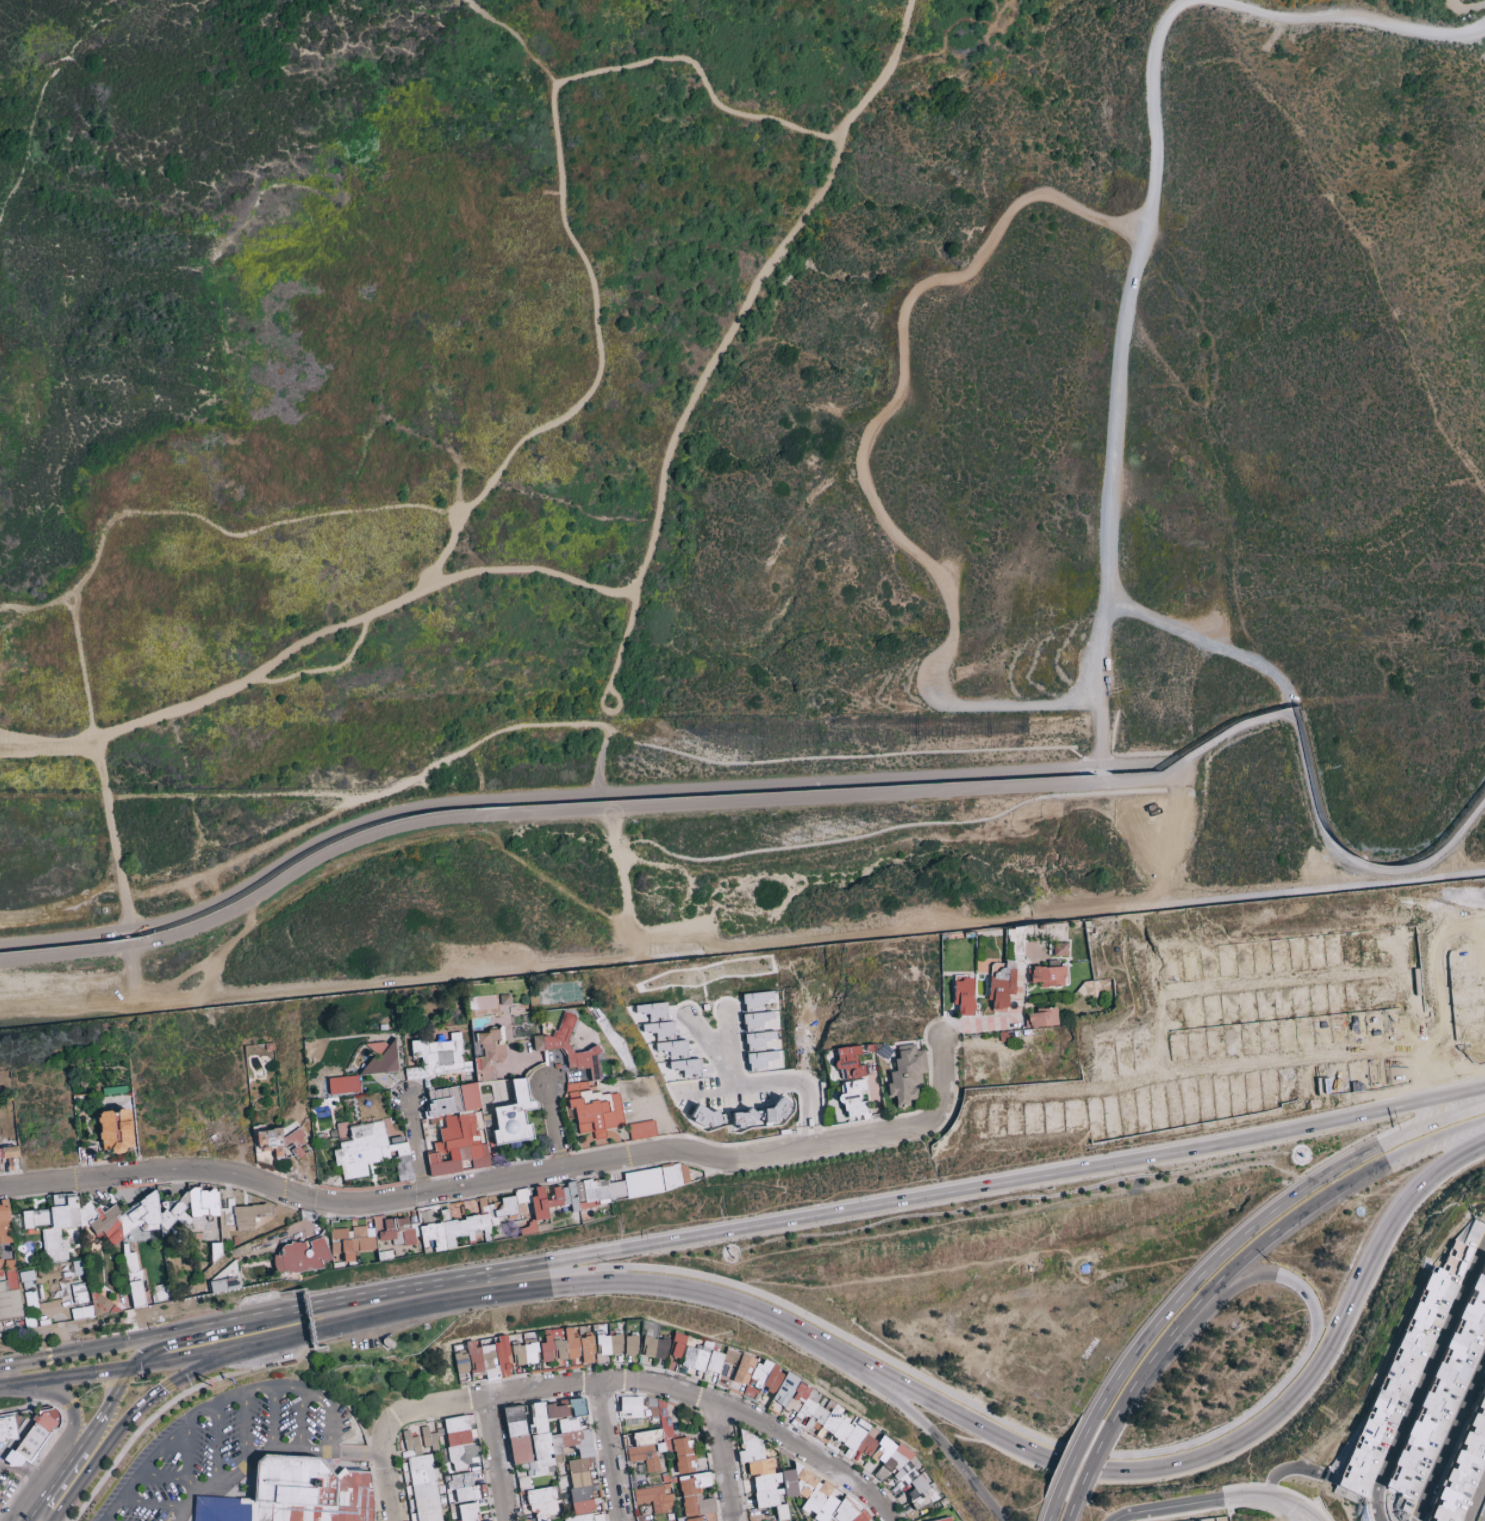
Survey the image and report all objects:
road: (1212, 2)
road: (649, 63)
road: (883, 73)
road: (30, 148)
road: (1356, 214)
road: (599, 363)
road: (1115, 421)
road: (860, 448)
road: (670, 449)
road: (172, 511)
road: (35, 605)
road: (1125, 610)
road: (262, 669)
road: (318, 669)
road: (612, 672)
road: (46, 746)
road: (97, 767)
road: (1308, 768)
road: (393, 787)
road: (564, 793)
road: (543, 812)
road: (117, 861)
building: (1043, 927)
building: (1012, 928)
building: (1030, 931)
building: (961, 935)
road: (742, 949)
building: (1061, 949)
building: (1054, 963)
building: (997, 969)
building: (1003, 974)
building: (1030, 974)
building: (1049, 975)
building: (1066, 975)
building: (960, 978)
building: (1097, 978)
building: (1109, 982)
building: (1099, 983)
building: (1091, 984)
building: (982, 987)
building: (1003, 989)
building: (1083, 990)
building: (563, 993)
building: (535, 994)
building: (965, 995)
building: (506, 1001)
building: (759, 1002)
building: (536, 1005)
building: (588, 1005)
building: (978, 1007)
building: (513, 1010)
building: (1001, 1010)
building: (979, 1013)
building: (966, 1014)
building: (473, 1016)
building: (1042, 1018)
road: (1004, 1023)
building: (529, 1027)
building: (549, 1027)
building: (384, 1028)
building: (400, 1028)
building: (566, 1028)
building: (660, 1031)
road: (722, 1035)
building: (495, 1036)
building: (503, 1036)
building: (442, 1039)
building: (485, 1039)
building: (439, 1042)
building: (432, 1043)
building: (500, 1044)
building: (539, 1044)
building: (872, 1047)
building: (271, 1048)
building: (379, 1048)
building: (478, 1048)
building: (672, 1048)
building: (500, 1049)
building: (561, 1050)
building: (597, 1050)
road: (711, 1050)
building: (424, 1051)
building: (885, 1051)
building: (401, 1056)
building: (488, 1057)
building: (446, 1058)
building: (547, 1058)
building: (501, 1059)
building: (761, 1060)
building: (850, 1060)
building: (551, 1061)
building: (265, 1062)
building: (383, 1063)
building: (847, 1063)
building: (922, 1063)
building: (492, 1064)
building: (589, 1064)
building: (402, 1065)
building: (478, 1065)
building: (559, 1067)
building: (258, 1068)
building: (686, 1068)
building: (402, 1069)
building: (608, 1069)
building: (419, 1073)
building: (479, 1073)
building: (855, 1073)
building: (490, 1075)
building: (905, 1076)
road: (942, 1076)
building: (462, 1079)
building: (480, 1079)
building: (904, 1079)
building: (250, 1080)
building: (342, 1085)
building: (593, 1085)
building: (854, 1085)
building: (428, 1086)
road: (797, 1086)
building: (578, 1087)
road: (702, 1092)
building: (514, 1093)
building: (575, 1096)
building: (323, 1097)
building: (471, 1097)
building: (487, 1097)
building: (851, 1098)
building: (447, 1099)
building: (597, 1099)
building: (854, 1099)
building: (343, 1101)
building: (334, 1104)
building: (475, 1112)
building: (776, 1112)
building: (591, 1113)
building: (466, 1114)
building: (574, 1114)
building: (125, 1115)
building: (516, 1115)
building: (449, 1116)
building: (511, 1116)
building: (488, 1118)
building: (494, 1118)
building: (612, 1119)
building: (743, 1119)
building: (325, 1120)
building: (479, 1122)
building: (126, 1126)
road: (558, 1126)
building: (512, 1128)
building: (117, 1129)
building: (344, 1129)
building: (108, 1130)
building: (259, 1130)
building: (452, 1130)
building: (641, 1130)
building: (463, 1134)
building: (335, 1135)
building: (320, 1136)
building: (128, 1139)
building: (295, 1139)
building: (273, 1143)
building: (326, 1144)
road: (413, 1147)
building: (120, 1149)
building: (366, 1150)
building: (12, 1153)
building: (2, 1154)
building: (88, 1155)
building: (11, 1162)
building: (656, 1180)
building: (599, 1191)
building: (243, 1213)
building: (492, 1215)
building: (4, 1222)
building: (122, 1226)
building: (529, 1228)
building: (371, 1237)
building: (215, 1249)
building: (300, 1256)
building: (1484, 1259)
building: (6, 1266)
building: (78, 1268)
building: (26, 1279)
building: (224, 1284)
building: (9, 1302)
building: (609, 1345)
building: (630, 1345)
building: (566, 1346)
building: (677, 1346)
building: (654, 1348)
building: (524, 1353)
building: (481, 1360)
park: (436, 1363)
building: (1396, 1375)
building: (1435, 1397)
building: (824, 1422)
building: (9, 1429)
building: (36, 1434)
building: (428, 1440)
building: (460, 1441)
building: (410, 1444)
building: (555, 1448)
parking lot: (229, 1449)
building: (642, 1458)
building: (13, 1459)
building: (1464, 1471)
building: (903, 1476)
building: (791, 1486)
building: (465, 1487)
building: (432, 1493)
building: (294, 1495)
building: (654, 1497)
building: (541, 1503)
building: (944, 1519)
building: (1199, 1520)

